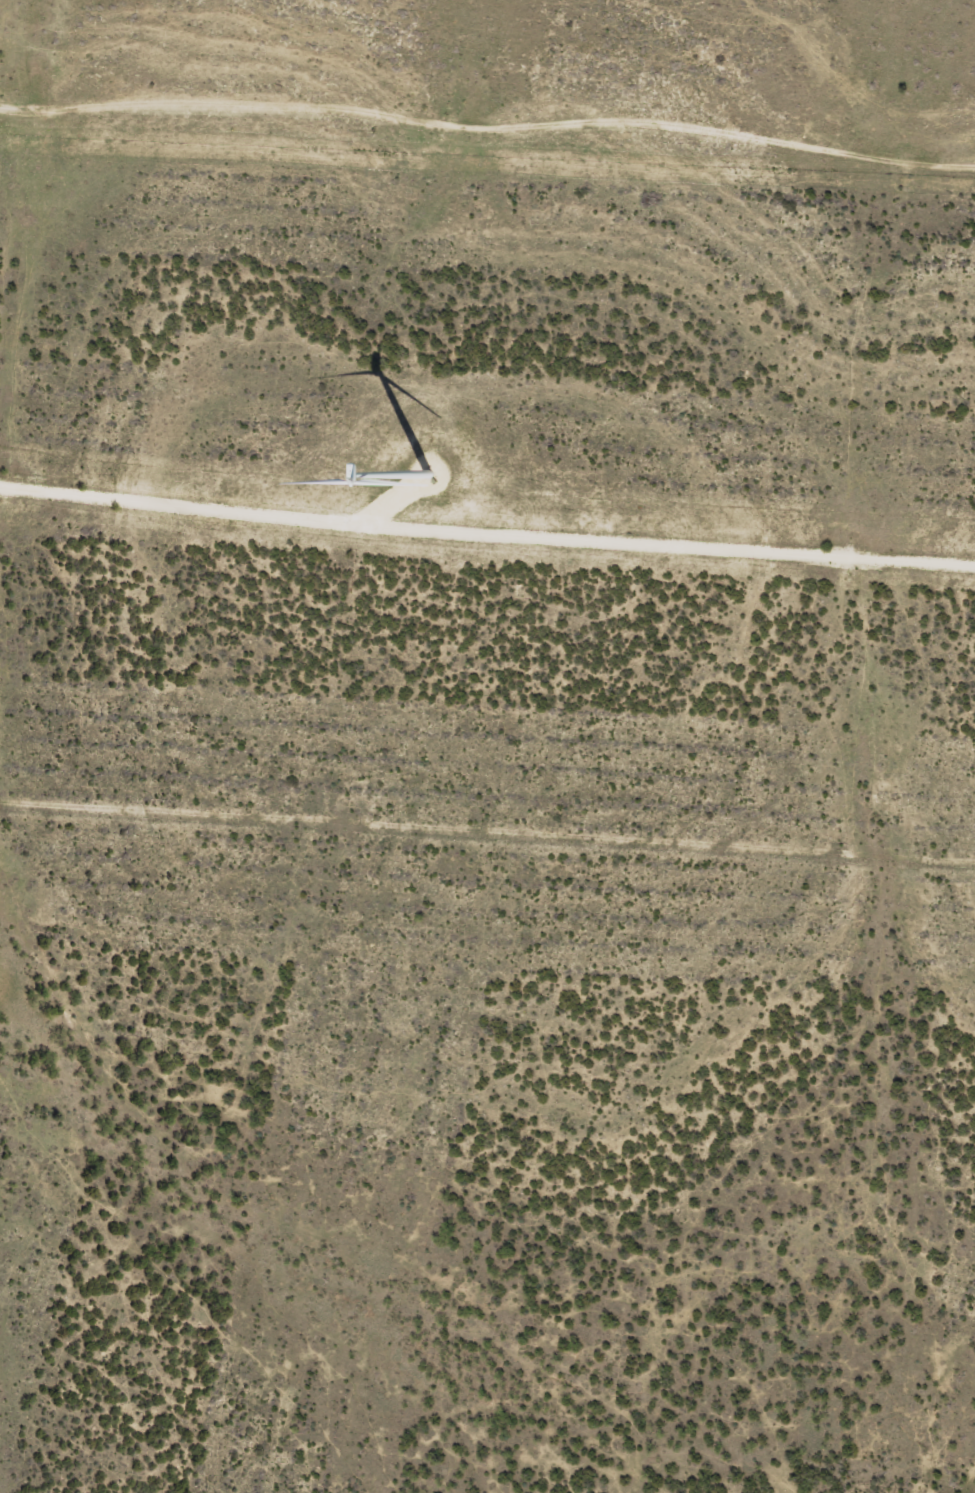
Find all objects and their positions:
road: (488, 149)
wind turbine: (436, 466)
road: (487, 531)
road: (966, 1481)

